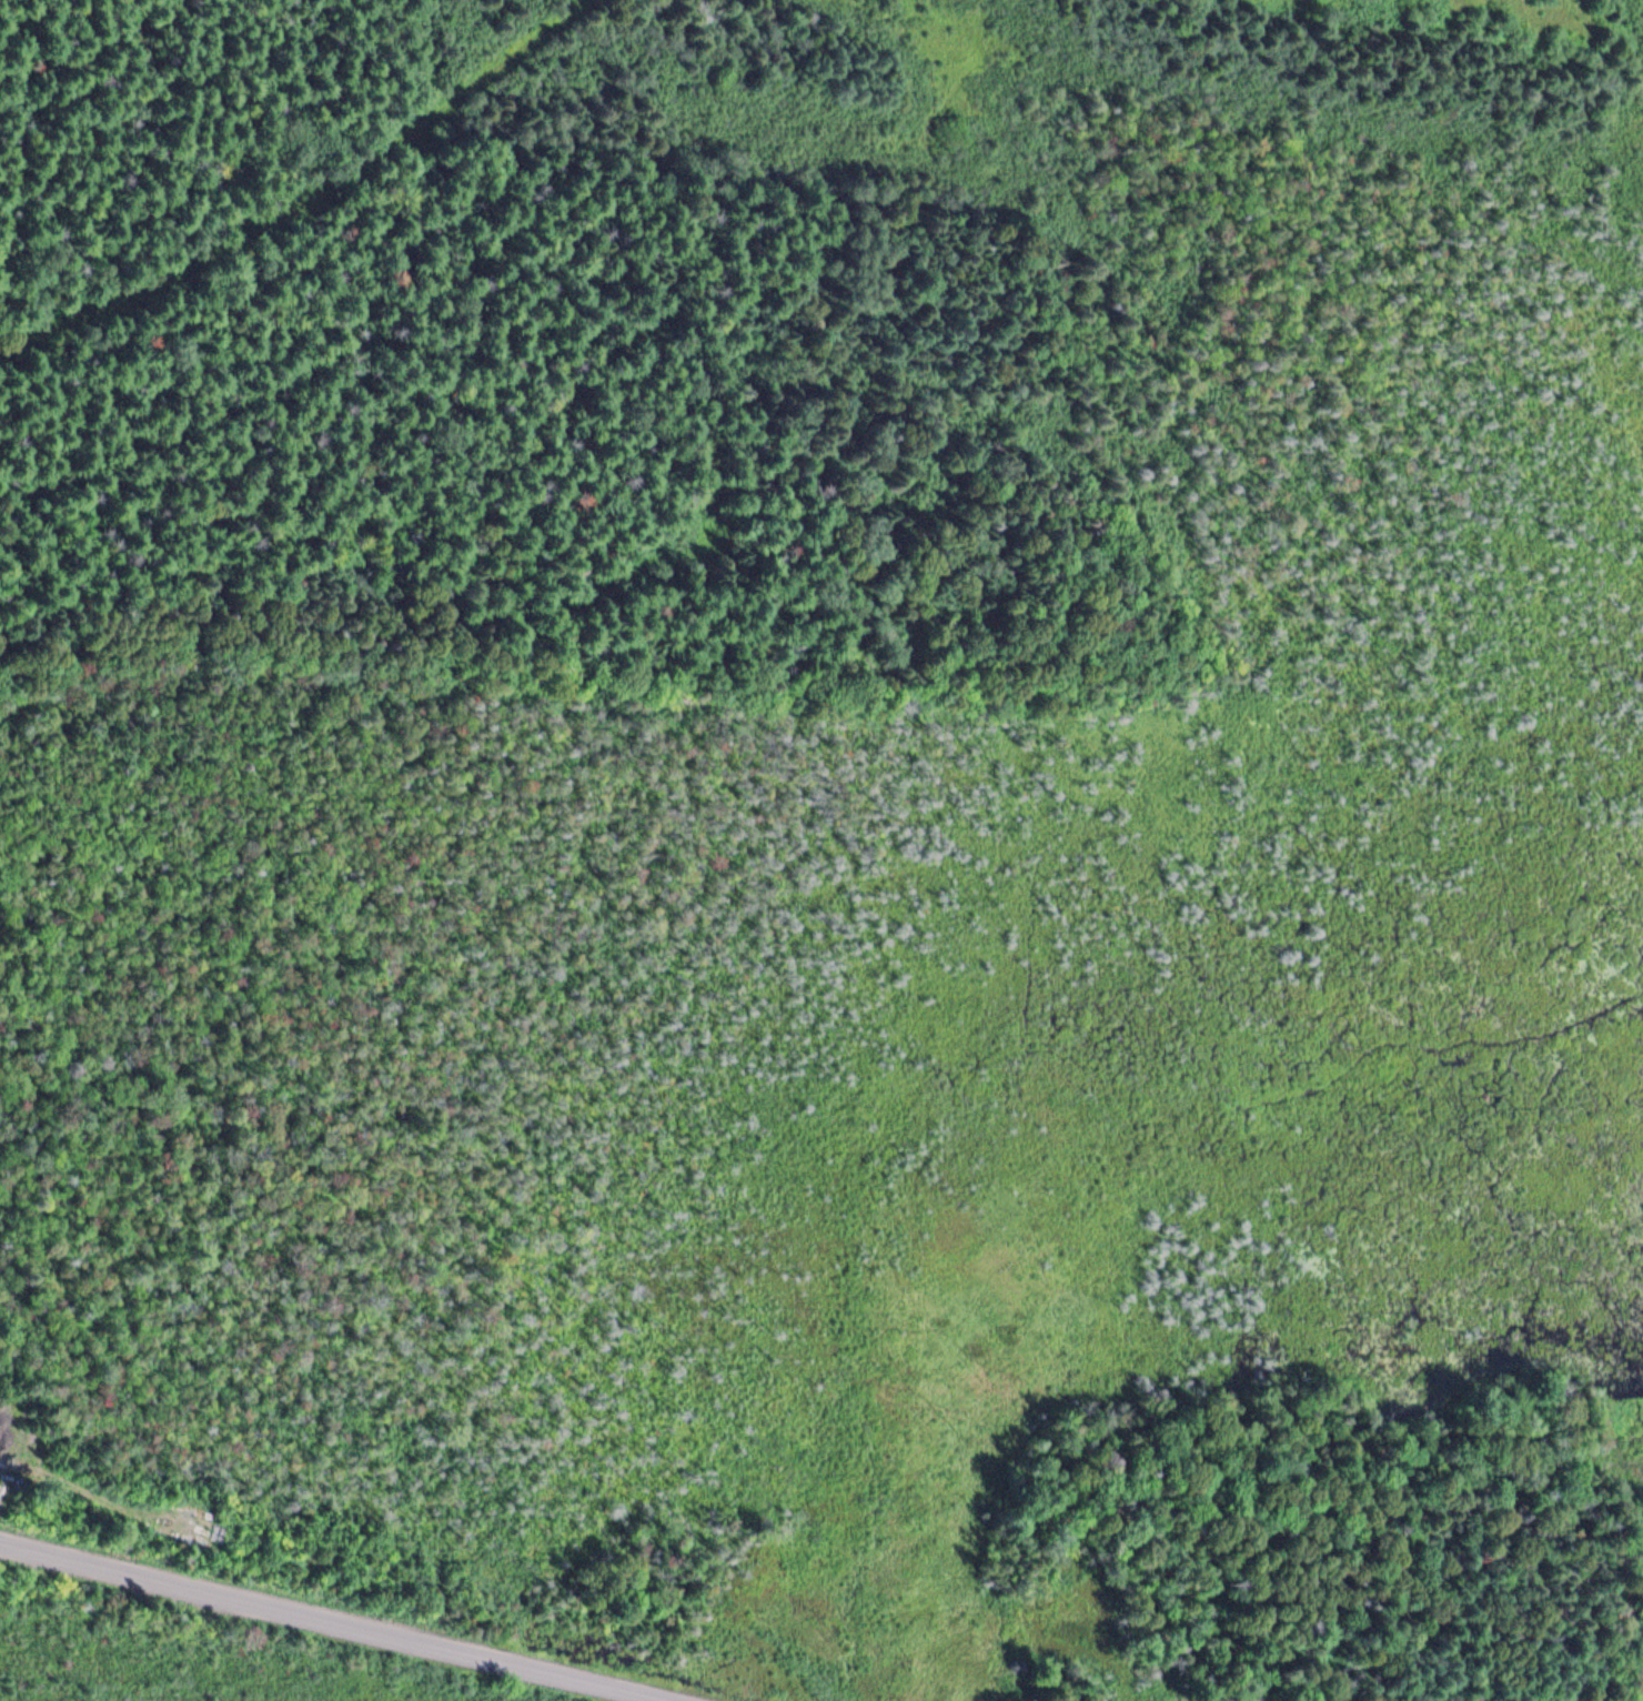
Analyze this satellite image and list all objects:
road: (300, 195)
road: (354, 1616)

